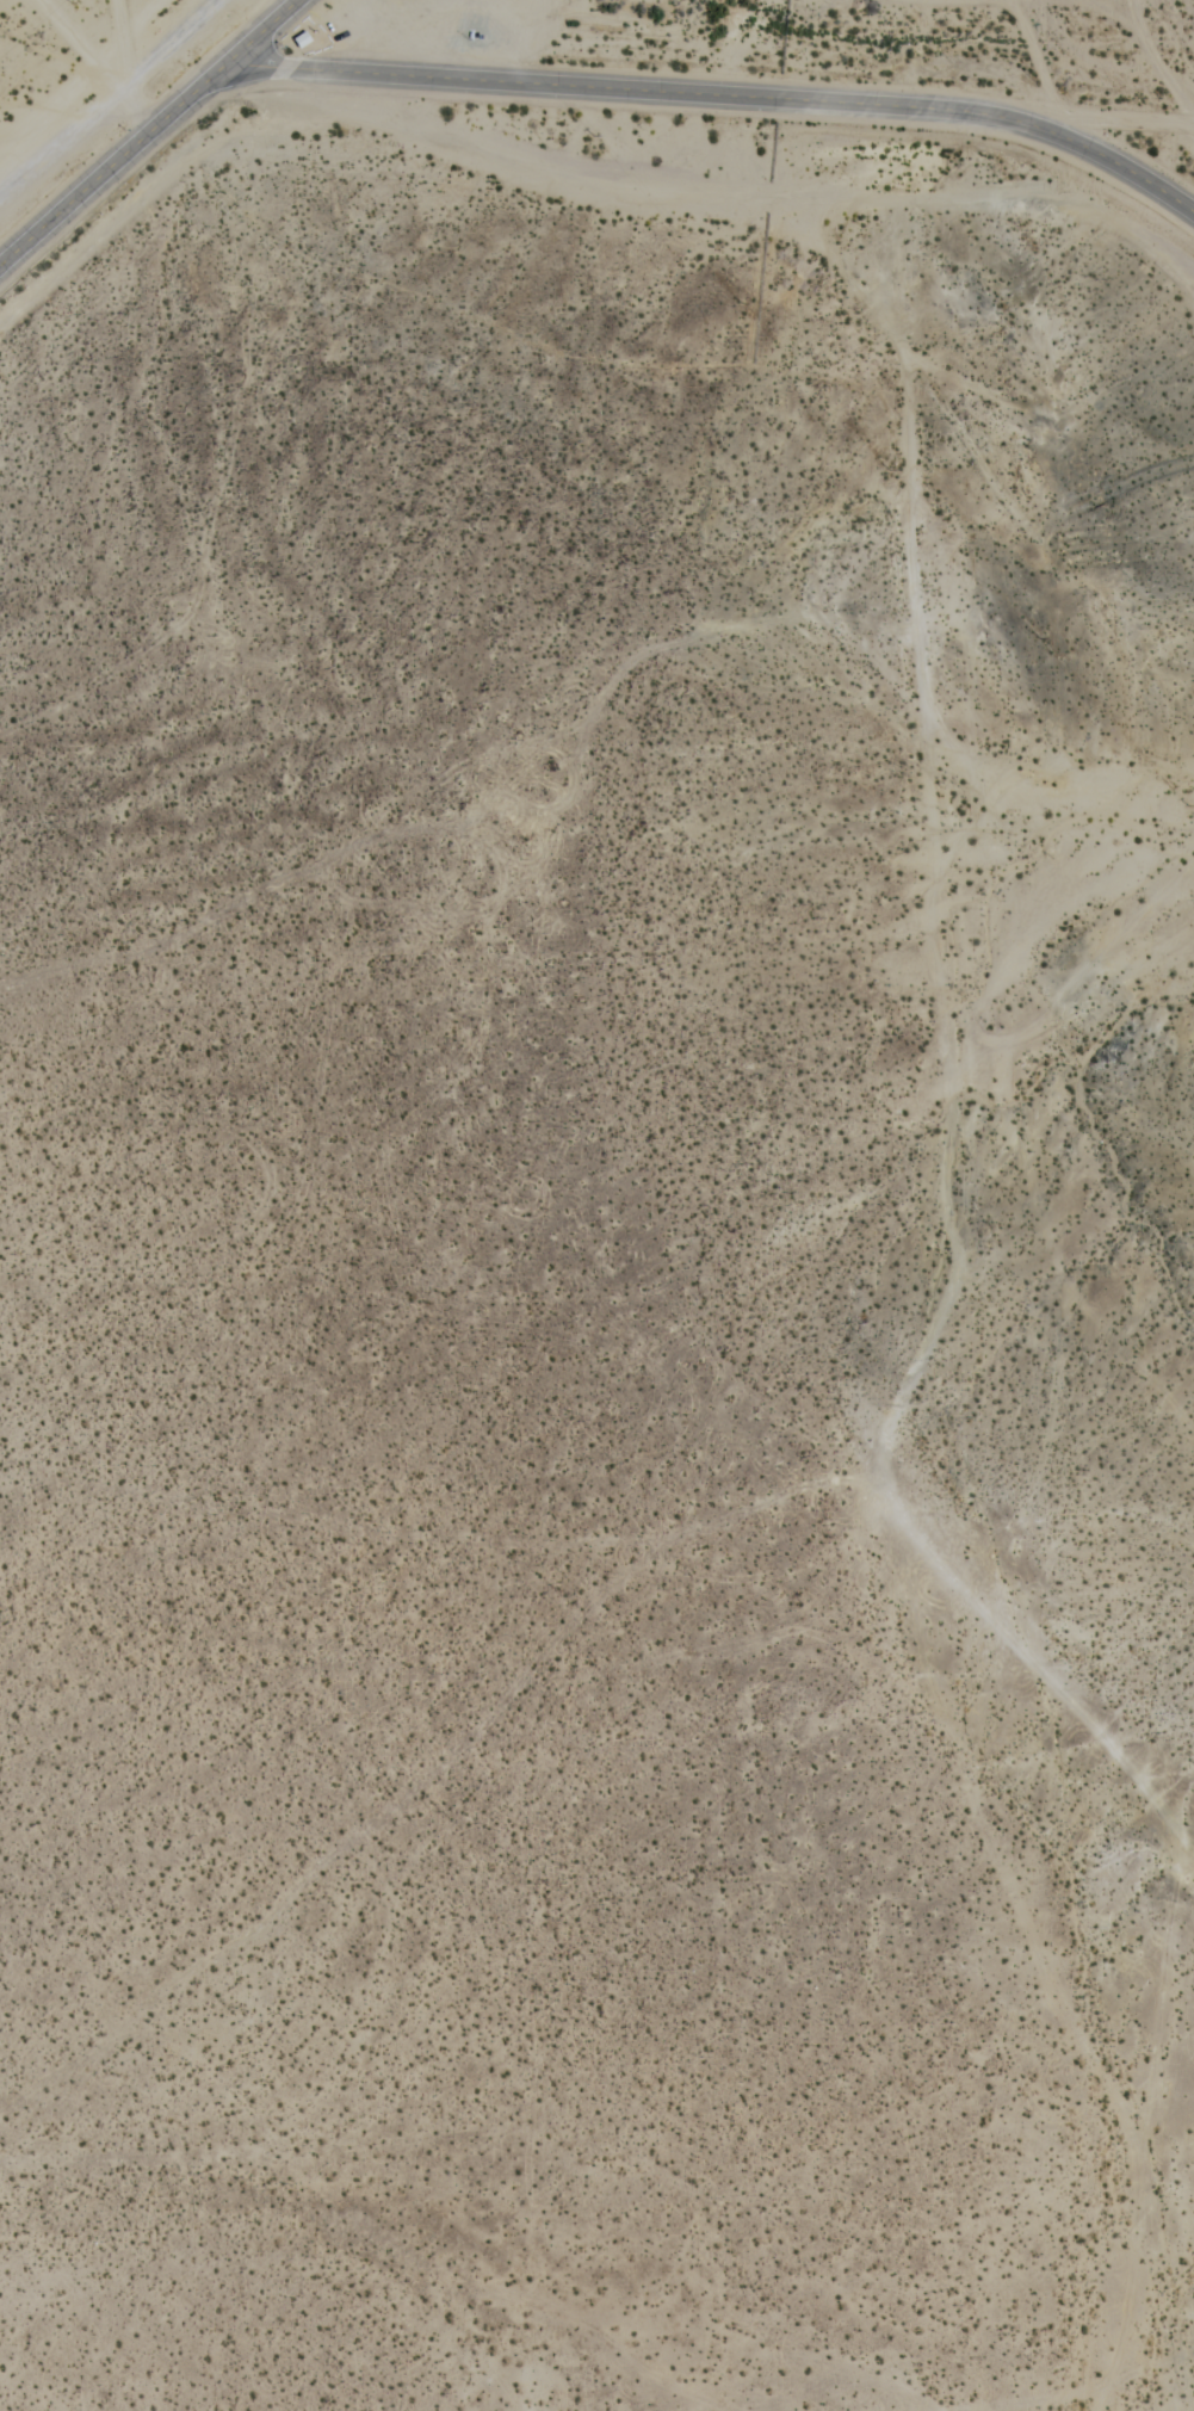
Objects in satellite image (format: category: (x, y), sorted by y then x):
building: (303, 39)
road: (132, 68)
road: (710, 94)
road: (148, 131)
road: (1095, 157)

